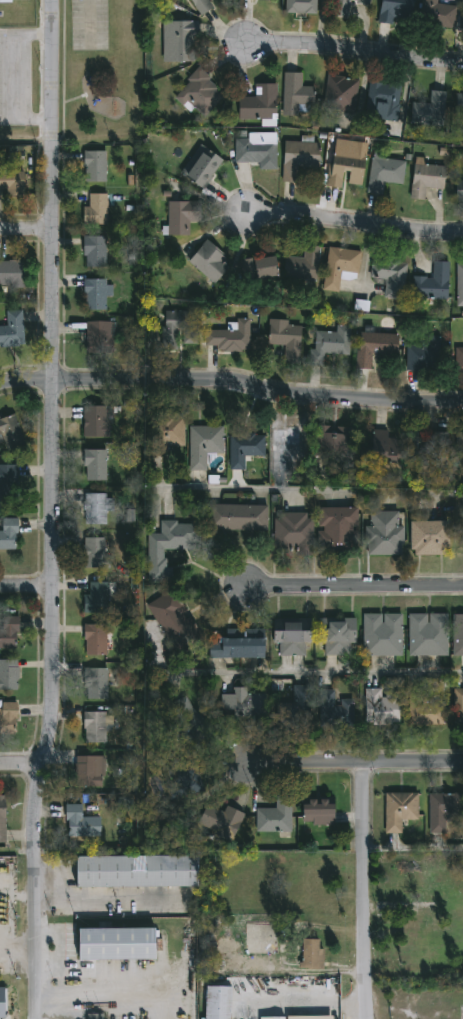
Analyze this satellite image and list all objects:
building: (5, 1)
building: (202, 6)
building: (300, 6)
building: (345, 7)
building: (395, 10)
building: (437, 14)
road: (89, 23)
parking lot: (89, 25)
building: (181, 40)
road: (354, 53)
park: (76, 70)
road: (11, 77)
parking lot: (15, 78)
building: (198, 94)
building: (297, 94)
building: (340, 94)
building: (382, 101)
building: (259, 104)
building: (429, 110)
building: (459, 113)
building: (257, 149)
building: (299, 158)
building: (94, 166)
building: (345, 167)
building: (203, 168)
building: (384, 174)
building: (12, 177)
building: (426, 179)
building: (459, 191)
building: (95, 210)
building: (182, 217)
road: (354, 227)
road: (26, 232)
building: (94, 252)
building: (209, 262)
building: (303, 265)
building: (264, 268)
building: (341, 270)
building: (11, 275)
building: (388, 275)
building: (433, 284)
building: (460, 284)
building: (95, 294)
building: (179, 328)
building: (12, 331)
building: (228, 335)
building: (98, 337)
building: (286, 338)
building: (330, 345)
building: (375, 347)
building: (424, 355)
building: (459, 360)
road: (231, 386)
building: (95, 421)
building: (167, 432)
building: (9, 433)
building: (333, 439)
building: (459, 443)
building: (204, 445)
building: (383, 445)
building: (283, 446)
building: (428, 448)
building: (244, 449)
building: (95, 466)
building: (8, 484)
building: (97, 508)
road: (53, 510)
building: (236, 518)
building: (337, 530)
building: (385, 533)
building: (293, 534)
building: (8, 535)
building: (430, 538)
building: (169, 547)
building: (93, 553)
road: (26, 587)
road: (354, 591)
building: (95, 599)
building: (174, 621)
building: (8, 632)
building: (382, 634)
building: (427, 634)
building: (457, 634)
building: (336, 636)
building: (291, 638)
building: (95, 640)
building: (236, 646)
road: (312, 672)
building: (8, 675)
building: (95, 685)
building: (241, 702)
building: (382, 707)
building: (458, 707)
building: (425, 709)
building: (297, 710)
building: (335, 710)
building: (8, 720)
building: (187, 722)
building: (94, 727)
road: (20, 762)
road: (355, 765)
building: (89, 771)
building: (183, 779)
building: (398, 810)
building: (318, 811)
building: (445, 812)
building: (274, 816)
building: (2, 820)
building: (220, 820)
building: (80, 822)
building: (135, 871)
road: (363, 892)
building: (116, 944)
building: (310, 954)
building: (216, 1002)
building: (2, 1003)
road: (304, 1004)
building: (311, 1017)
building: (93, 1018)
building: (271, 1018)

